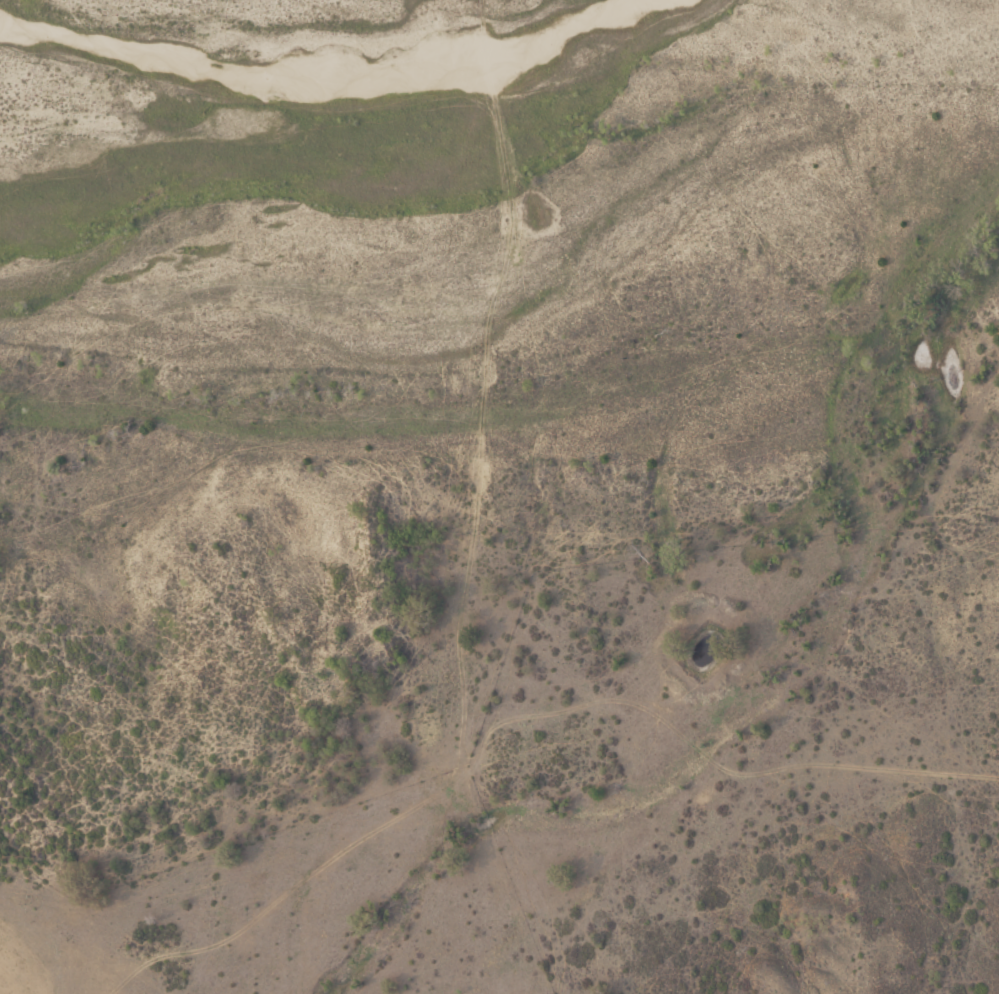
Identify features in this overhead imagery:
river: (315, 64)

